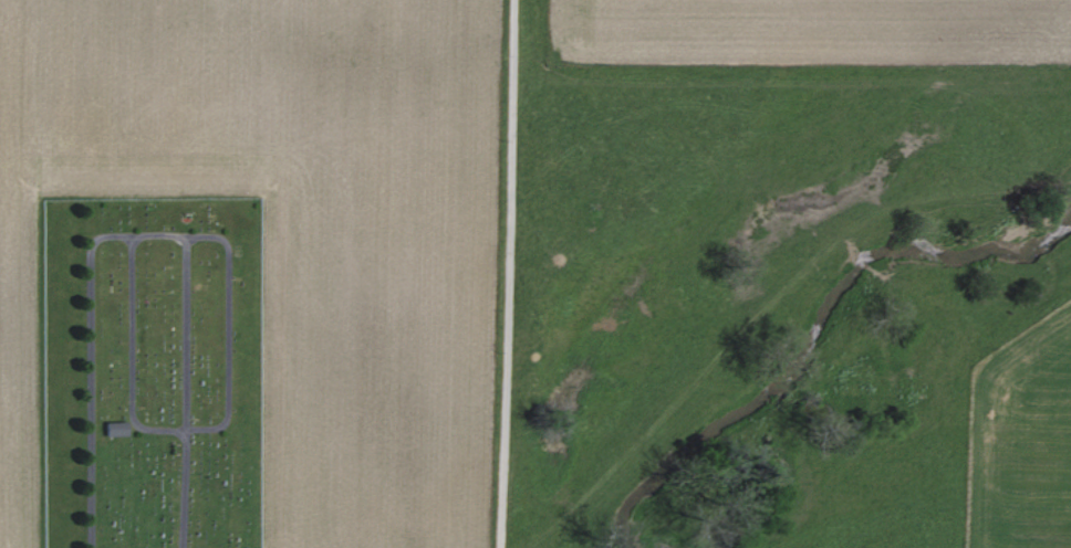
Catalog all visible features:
road: (508, 274)
road: (89, 375)
road: (184, 391)
road: (221, 422)
building: (111, 426)

